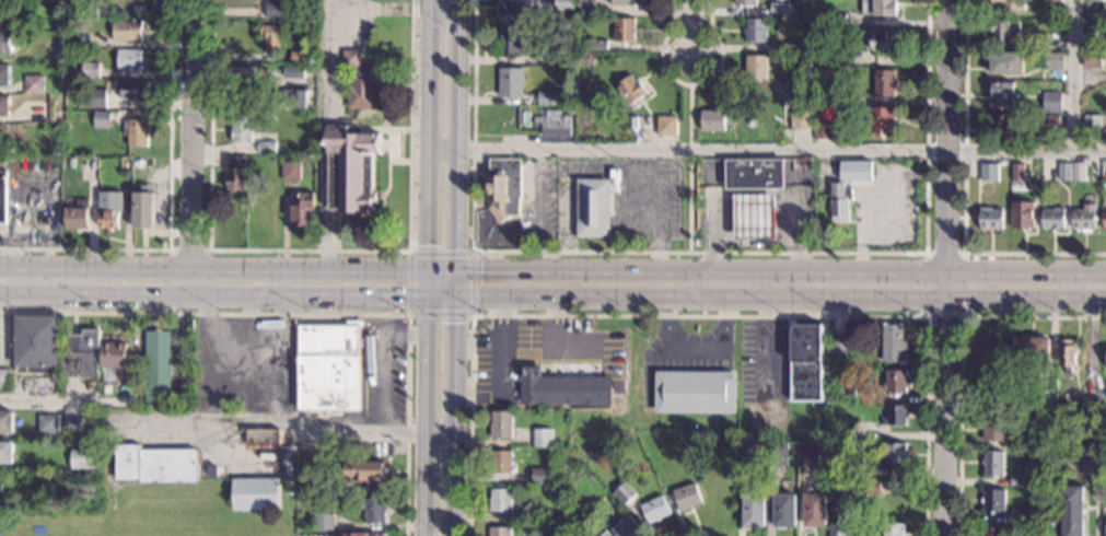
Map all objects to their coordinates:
building: (1060, 0)
building: (1093, 0)
building: (629, 2)
building: (745, 2)
building: (1010, 4)
building: (586, 7)
building: (880, 7)
building: (563, 8)
building: (88, 9)
building: (277, 9)
road: (446, 9)
building: (779, 9)
building: (515, 11)
building: (0, 13)
building: (1056, 14)
building: (824, 18)
building: (12, 20)
building: (293, 24)
building: (126, 30)
building: (624, 30)
road: (691, 30)
building: (780, 30)
building: (1003, 30)
building: (756, 31)
building: (272, 36)
building: (88, 37)
building: (883, 40)
building: (5, 42)
building: (1092, 42)
building: (512, 43)
building: (598, 45)
building: (800, 45)
building: (54, 53)
building: (563, 55)
building: (824, 56)
building: (299, 57)
building: (129, 59)
building: (1092, 59)
building: (1053, 60)
building: (1006, 62)
building: (756, 67)
building: (90, 70)
building: (294, 71)
building: (4, 74)
road: (1073, 75)
road: (386, 77)
building: (361, 80)
building: (512, 81)
building: (286, 83)
road: (690, 83)
building: (884, 83)
building: (35, 84)
road: (398, 85)
building: (630, 89)
building: (133, 90)
road: (325, 91)
building: (1003, 93)
building: (825, 94)
building: (554, 96)
building: (96, 97)
building: (295, 98)
building: (1051, 102)
building: (4, 105)
building: (569, 108)
building: (39, 110)
building: (540, 110)
building: (69, 117)
building: (102, 119)
building: (1051, 119)
building: (712, 120)
building: (801, 120)
building: (882, 120)
building: (554, 124)
building: (1092, 124)
building: (1000, 125)
building: (666, 126)
building: (242, 127)
road: (380, 129)
road: (407, 130)
building: (824, 130)
building: (137, 132)
building: (0, 136)
road: (191, 145)
building: (266, 147)
road: (430, 147)
road: (461, 147)
road: (768, 150)
road: (394, 161)
building: (142, 162)
road: (407, 162)
building: (127, 163)
building: (853, 166)
building: (88, 167)
building: (351, 167)
road: (690, 168)
building: (291, 171)
building: (1078, 171)
building: (989, 172)
building: (1017, 172)
building: (1063, 172)
building: (236, 173)
building: (755, 174)
building: (504, 187)
building: (2, 195)
road: (964, 196)
building: (840, 202)
building: (595, 205)
building: (109, 209)
building: (302, 209)
road: (382, 209)
building: (143, 210)
road: (170, 210)
building: (1022, 214)
building: (77, 215)
building: (755, 217)
building: (1084, 217)
building: (990, 218)
building: (1053, 219)
building: (1104, 220)
traffic signals: (429, 245)
road: (311, 250)
road: (474, 253)
road: (699, 253)
road: (171, 261)
road: (947, 268)
traffic signals: (480, 272)
road: (552, 272)
road: (214, 292)
traffic signals: (401, 293)
road: (442, 293)
road: (780, 294)
road: (961, 313)
road: (315, 314)
road: (699, 314)
traffic signals: (455, 323)
building: (838, 342)
building: (36, 343)
building: (893, 343)
road: (219, 346)
road: (276, 347)
building: (1031, 349)
road: (959, 353)
building: (81, 354)
parking lot: (540, 354)
building: (1067, 356)
building: (112, 361)
road: (385, 361)
building: (805, 362)
building: (158, 366)
parking lot: (247, 366)
building: (329, 368)
parking lot: (382, 373)
building: (3, 378)
building: (896, 381)
building: (564, 389)
building: (846, 391)
building: (695, 392)
building: (1047, 399)
road: (42, 401)
building: (1086, 407)
road: (454, 413)
building: (546, 413)
road: (427, 415)
building: (894, 416)
building: (7, 421)
building: (48, 423)
building: (502, 424)
building: (993, 427)
road: (289, 429)
building: (846, 433)
building: (264, 436)
building: (543, 436)
building: (1090, 438)
building: (7, 452)
building: (747, 452)
building: (777, 453)
building: (813, 453)
building: (895, 454)
building: (83, 458)
building: (501, 461)
building: (287, 463)
building: (155, 464)
building: (993, 464)
building: (365, 470)
building: (845, 471)
building: (540, 476)
building: (1017, 481)
building: (0, 483)
building: (784, 485)
building: (871, 487)
building: (624, 492)
building: (256, 493)
building: (1105, 493)
building: (688, 497)
building: (501, 500)
building: (843, 500)
building: (994, 500)
building: (655, 509)
building: (373, 510)
building: (754, 510)
building: (784, 510)
building: (815, 510)
building: (1072, 511)
building: (547, 515)
building: (533, 516)
building: (1027, 516)
building: (323, 521)
park: (147, 526)
building: (627, 526)
building: (839, 529)
building: (894, 529)
building: (501, 532)
road: (689, 532)
building: (993, 532)
building: (362, 534)
building: (606, 534)

